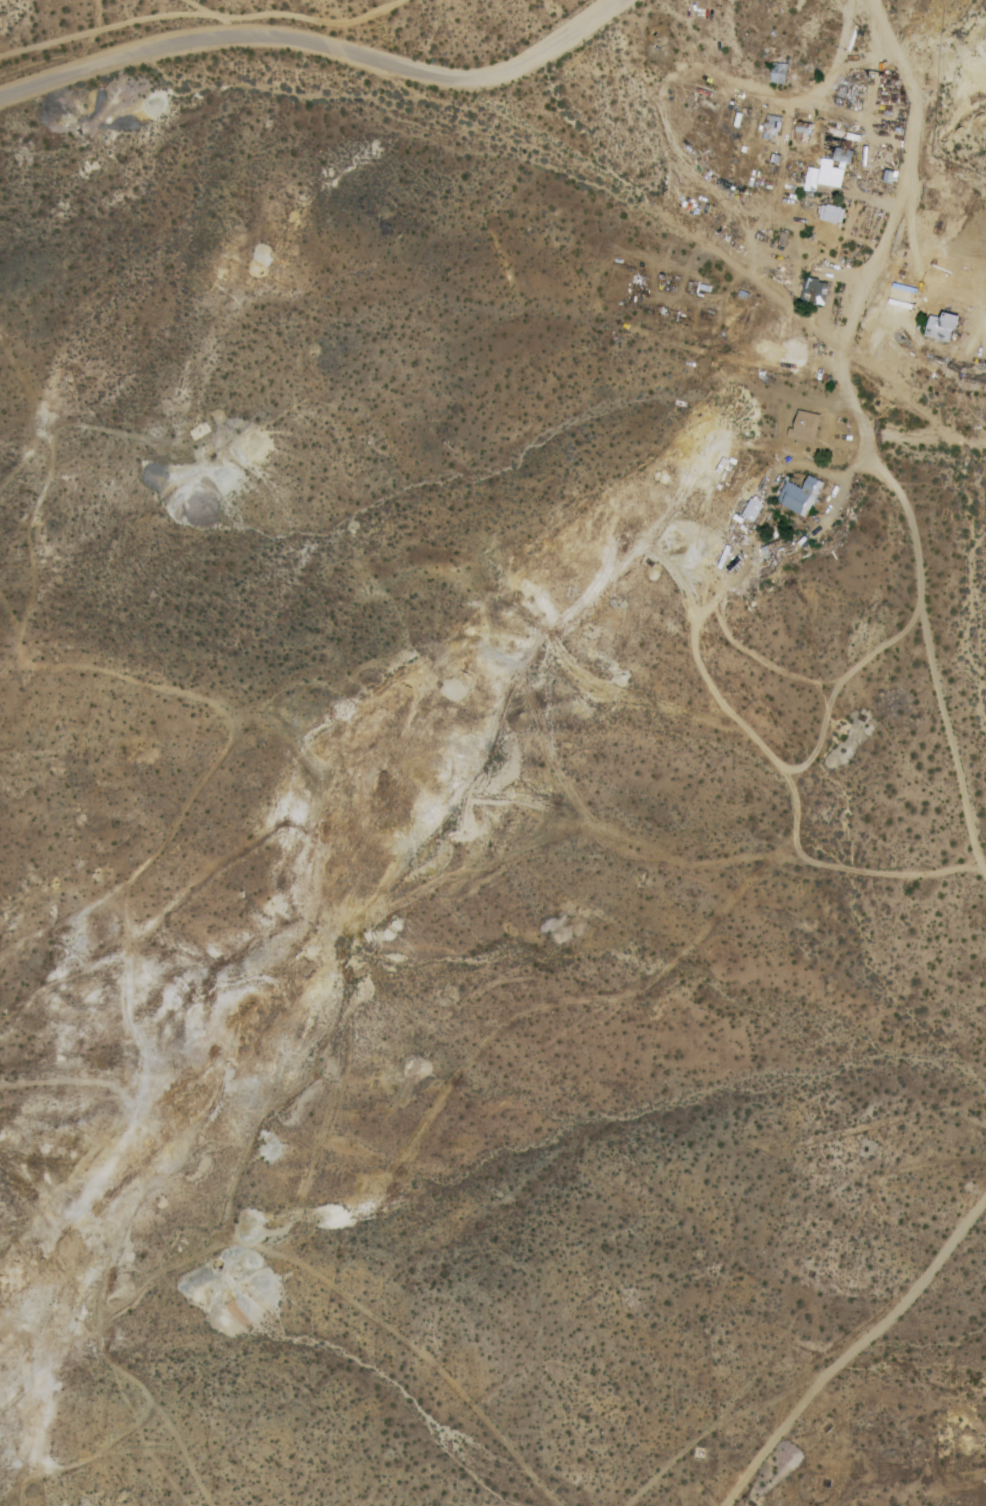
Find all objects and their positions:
road: (318, 45)
building: (775, 75)
building: (769, 129)
building: (839, 157)
building: (829, 215)
road: (874, 262)
building: (812, 293)
building: (936, 328)
building: (801, 427)
building: (796, 497)
building: (748, 512)

